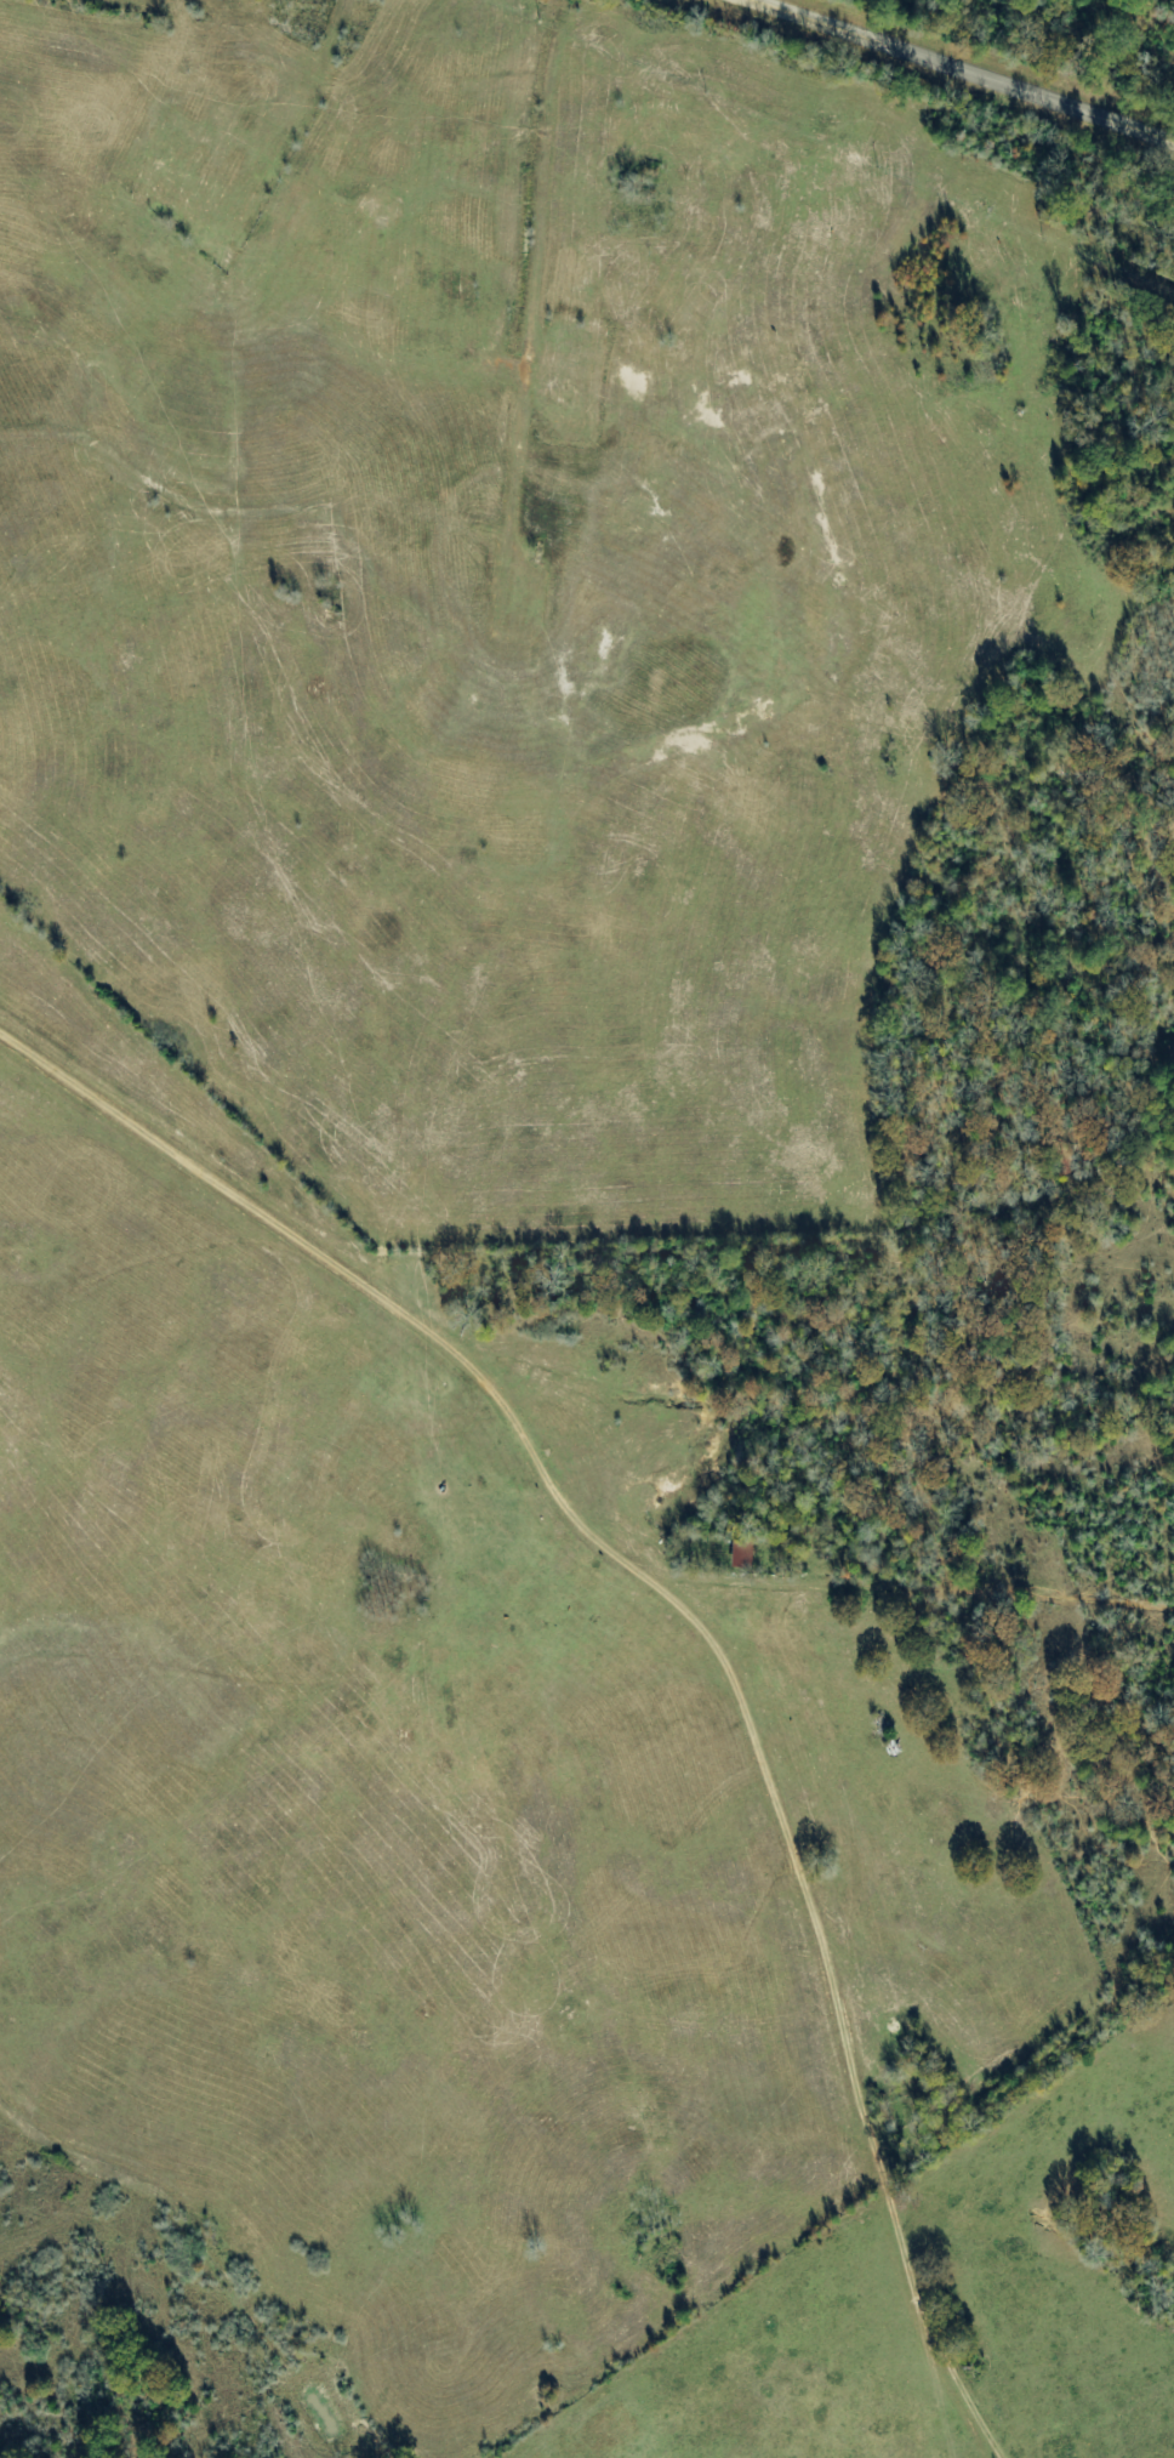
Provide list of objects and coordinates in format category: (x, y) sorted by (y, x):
road: (964, 68)

